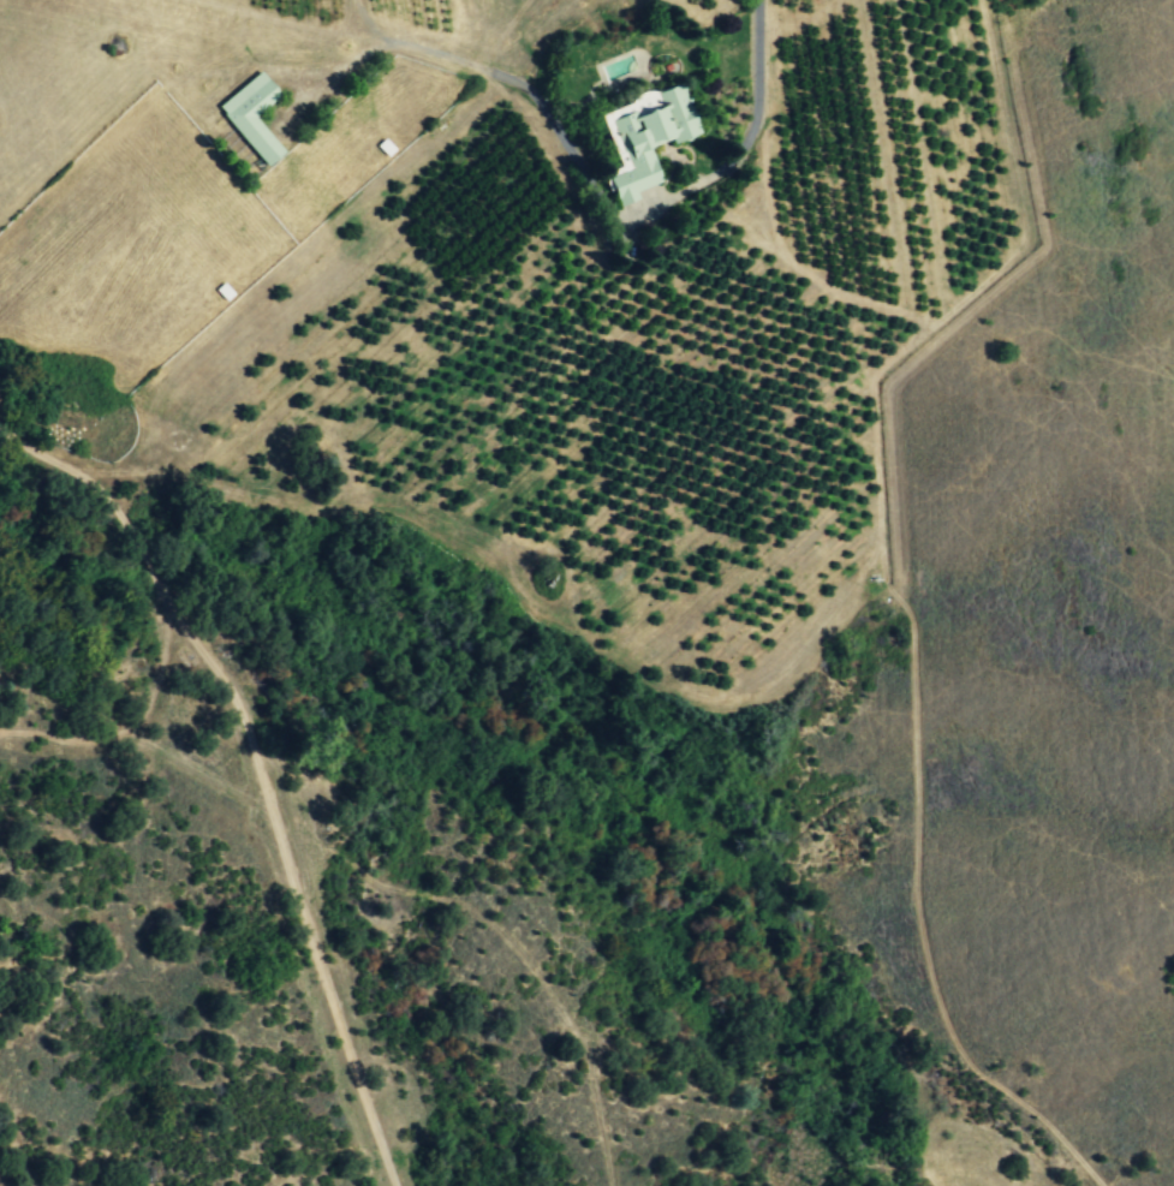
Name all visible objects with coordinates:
road: (248, 12)
road: (491, 75)
building: (251, 117)
building: (643, 138)
road: (739, 145)
road: (260, 768)

